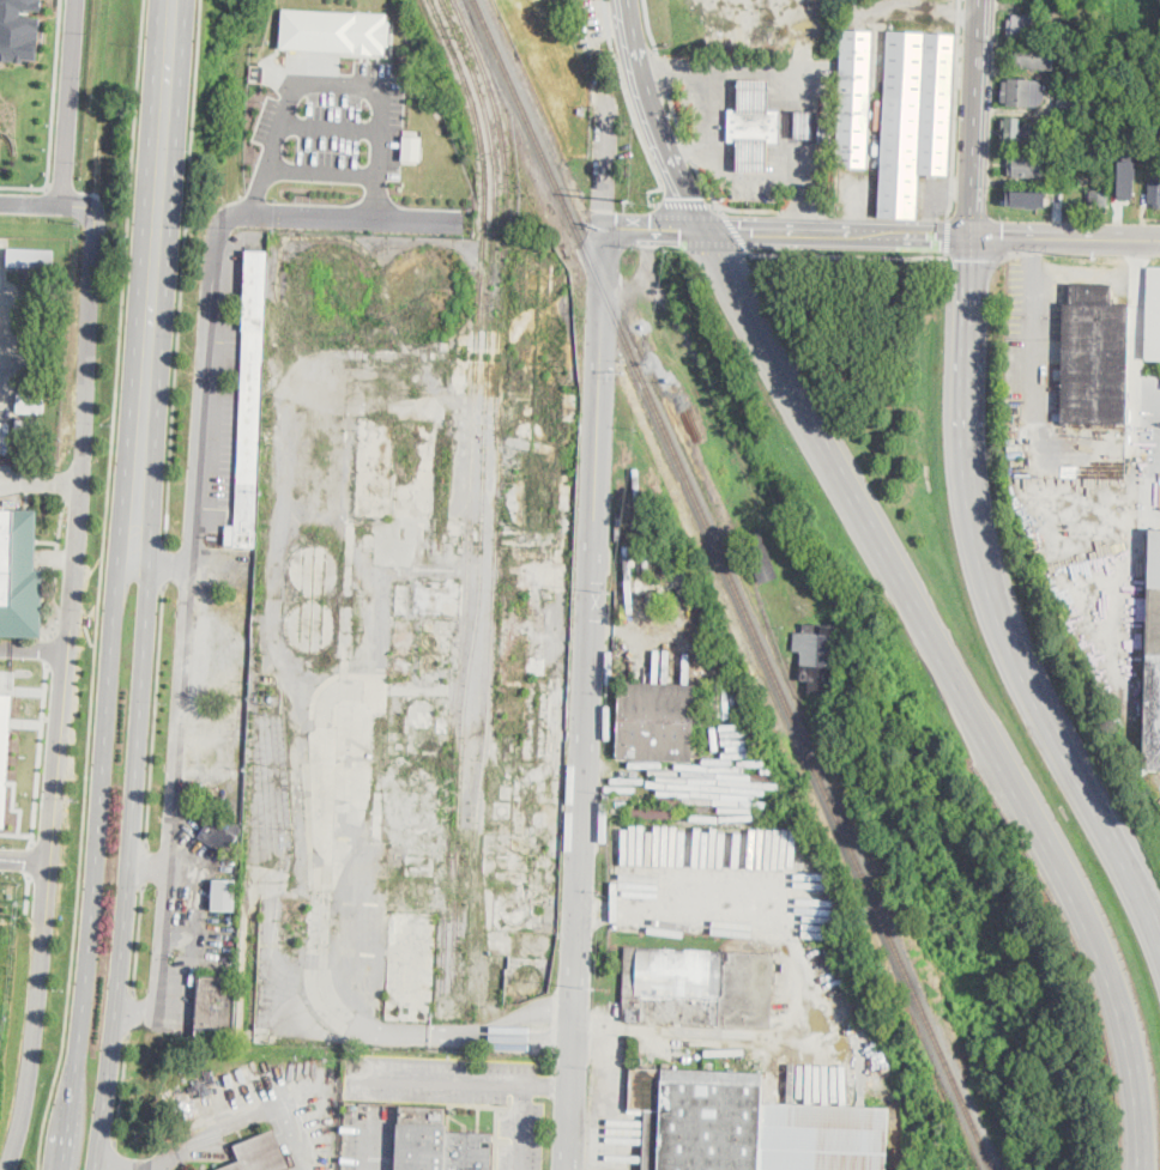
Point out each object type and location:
road: (648, 24)
building: (1025, 25)
building: (19, 30)
building: (334, 30)
building: (1034, 55)
road: (663, 69)
road: (787, 78)
road: (334, 84)
building: (1022, 92)
road: (53, 93)
building: (754, 95)
building: (853, 98)
road: (67, 101)
road: (167, 107)
building: (1067, 107)
road: (705, 108)
road: (955, 108)
road: (633, 113)
road: (676, 114)
building: (914, 117)
road: (654, 119)
road: (979, 119)
building: (1064, 122)
building: (804, 125)
building: (754, 126)
road: (330, 127)
building: (827, 131)
building: (1019, 133)
building: (411, 147)
road: (687, 148)
building: (753, 157)
building: (1027, 166)
road: (320, 172)
building: (1126, 176)
road: (727, 180)
building: (1079, 182)
road: (23, 186)
road: (707, 186)
road: (54, 187)
building: (1154, 192)
traffic signals: (688, 196)
building: (1026, 198)
building: (1100, 198)
power tower: (632, 201)
road: (685, 202)
road: (747, 210)
road: (972, 217)
road: (677, 225)
road: (664, 230)
traffic signals: (679, 231)
road: (737, 232)
traffic signals: (748, 232)
road: (932, 236)
road: (948, 236)
traffic signals: (937, 237)
traffic signals: (1002, 238)
road: (998, 241)
road: (0, 253)
road: (851, 255)
building: (30, 256)
power tower: (1095, 256)
road: (972, 257)
traffic signals: (974, 259)
road: (181, 272)
road: (1082, 274)
building: (38, 290)
road: (204, 297)
building: (1153, 315)
building: (26, 326)
building: (37, 335)
road: (1034, 344)
road: (149, 354)
building: (1095, 357)
building: (36, 380)
building: (30, 401)
building: (250, 402)
building: (29, 426)
building: (4, 436)
road: (40, 480)
road: (65, 487)
building: (760, 557)
building: (1154, 559)
road: (133, 563)
road: (55, 565)
road: (164, 565)
building: (19, 576)
railway: (731, 584)
road: (98, 586)
power tower: (614, 592)
road: (997, 604)
road: (68, 618)
road: (87, 631)
road: (67, 645)
road: (48, 647)
road: (34, 650)
building: (818, 657)
building: (1152, 683)
road: (960, 687)
road: (587, 695)
road: (153, 714)
building: (655, 721)
road: (175, 733)
building: (4, 745)
road: (40, 753)
road: (12, 808)
road: (99, 831)
road: (16, 832)
road: (133, 832)
building: (220, 833)
road: (24, 860)
road: (30, 860)
road: (143, 863)
road: (29, 892)
building: (226, 896)
road: (138, 938)
road: (157, 948)
road: (798, 986)
power tower: (594, 987)
building: (699, 987)
building: (216, 1007)
road: (532, 1010)
road: (131, 1013)
road: (381, 1029)
road: (533, 1036)
road: (463, 1079)
road: (121, 1089)
road: (243, 1117)
road: (522, 1126)
building: (749, 1126)
building: (439, 1144)
road: (373, 1152)
building: (260, 1153)
road: (111, 1156)
road: (122, 1165)

